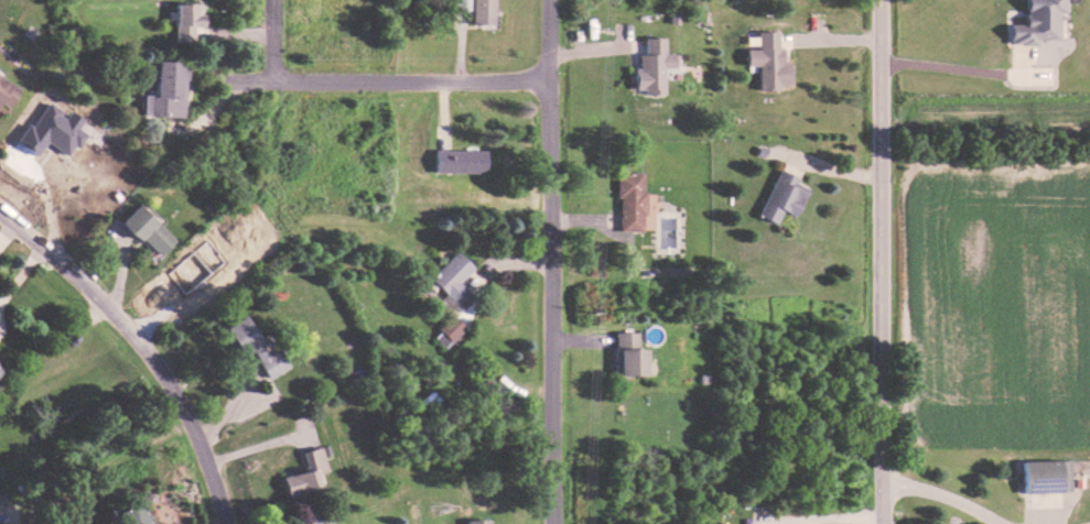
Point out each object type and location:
building: (461, 6)
building: (481, 12)
building: (187, 23)
building: (1038, 23)
building: (769, 62)
road: (956, 66)
building: (652, 68)
road: (412, 78)
building: (166, 91)
building: (7, 92)
building: (51, 132)
building: (458, 162)
building: (783, 197)
building: (630, 203)
road: (71, 229)
building: (147, 231)
road: (878, 261)
road: (548, 262)
building: (452, 281)
road: (138, 284)
building: (255, 347)
road: (142, 350)
building: (628, 356)
building: (0, 369)
road: (270, 452)
building: (305, 473)
building: (1045, 477)
road: (943, 496)
road: (819, 515)
building: (132, 516)
building: (477, 518)
building: (314, 521)

